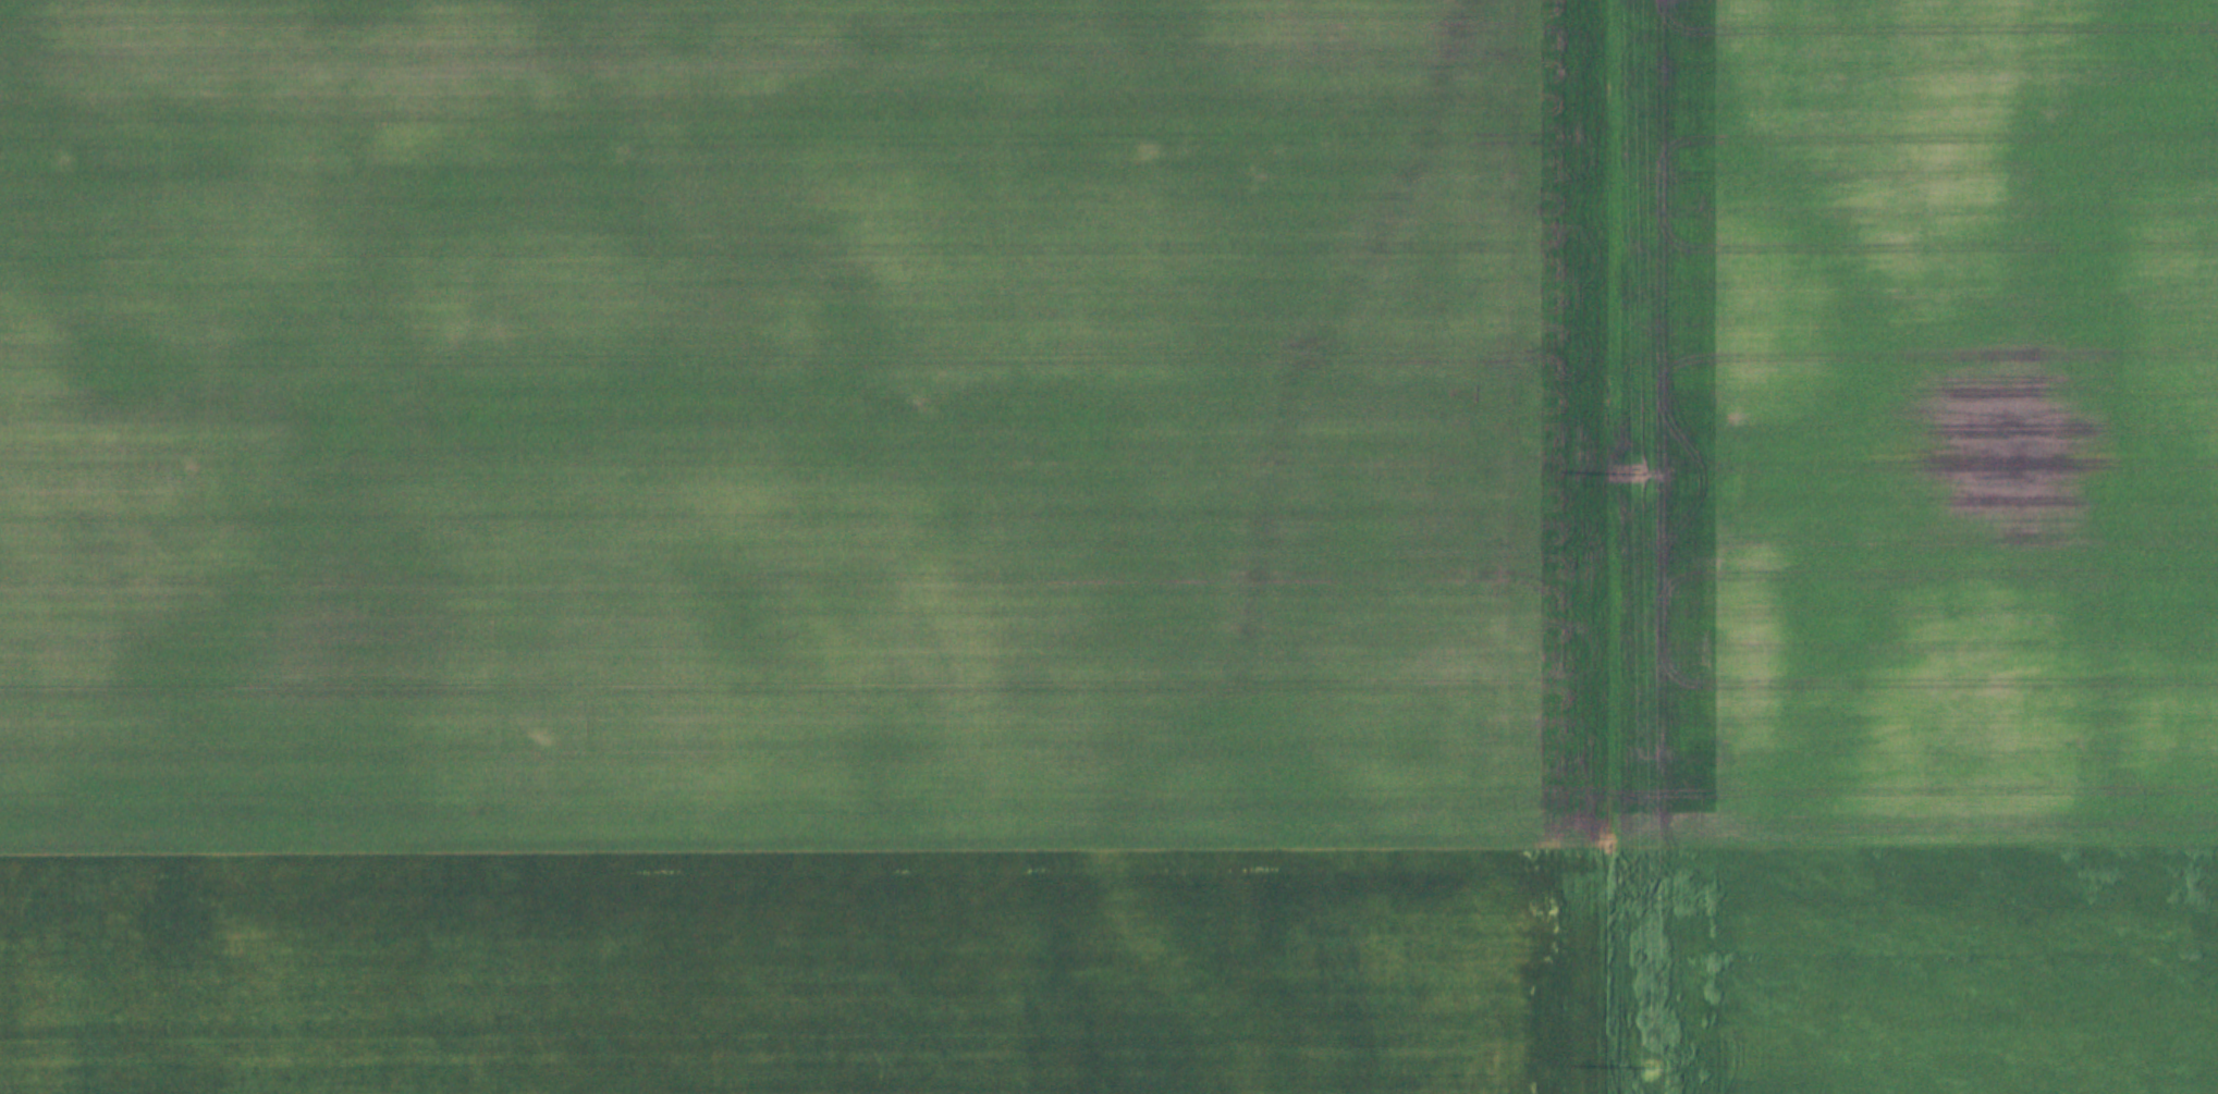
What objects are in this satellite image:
power tower: (1626, 475)
power tower: (1642, 1069)

